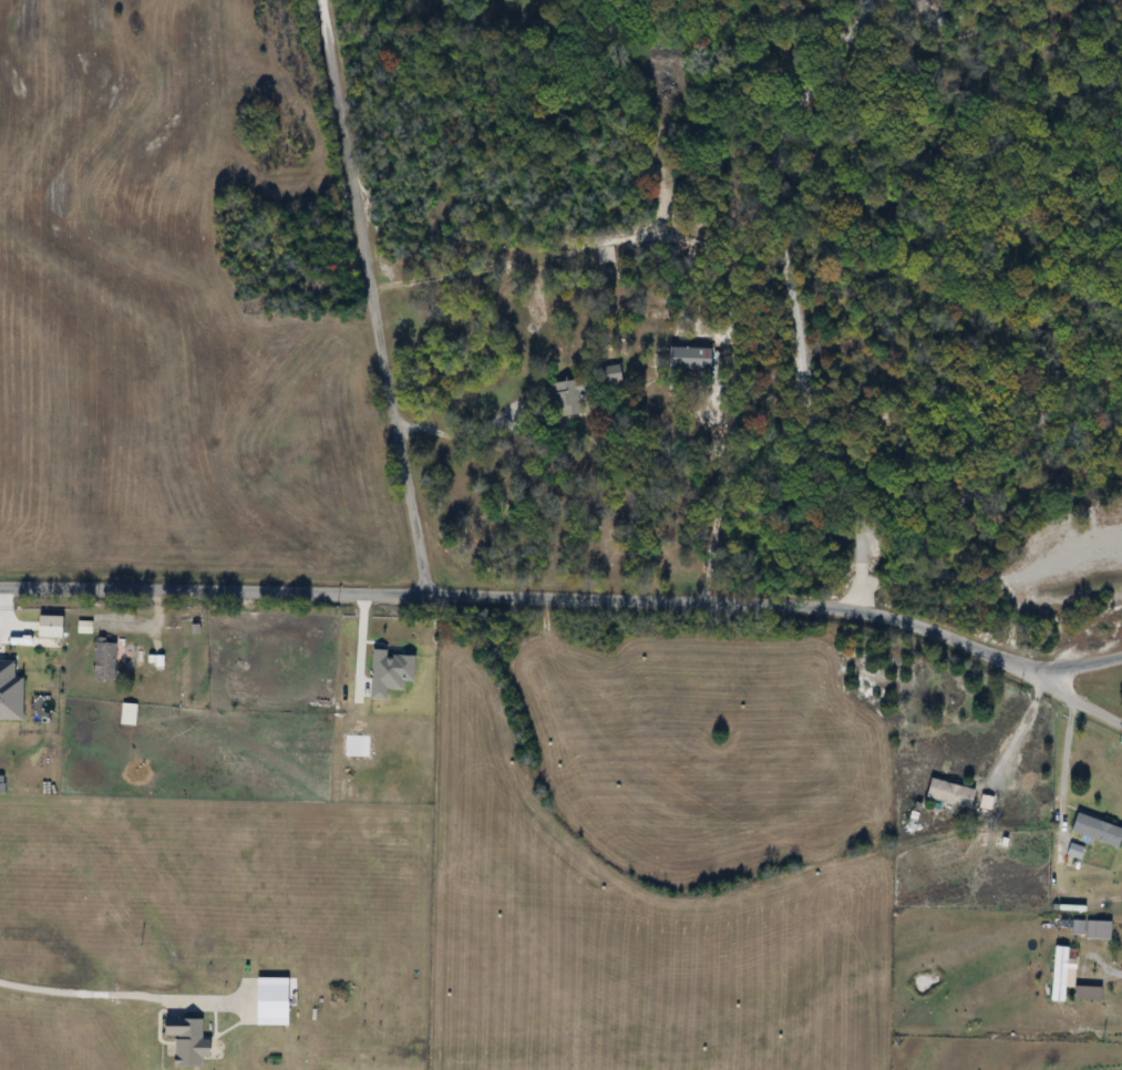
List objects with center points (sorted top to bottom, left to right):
road: (440, 276)
building: (533, 298)
road: (371, 299)
building: (692, 359)
building: (570, 397)
road: (471, 439)
road: (720, 503)
road: (573, 599)
building: (50, 626)
building: (107, 662)
road: (1078, 666)
road: (1010, 730)
road: (1057, 762)
building: (953, 794)
building: (1098, 831)
road: (1113, 974)
road: (111, 994)

